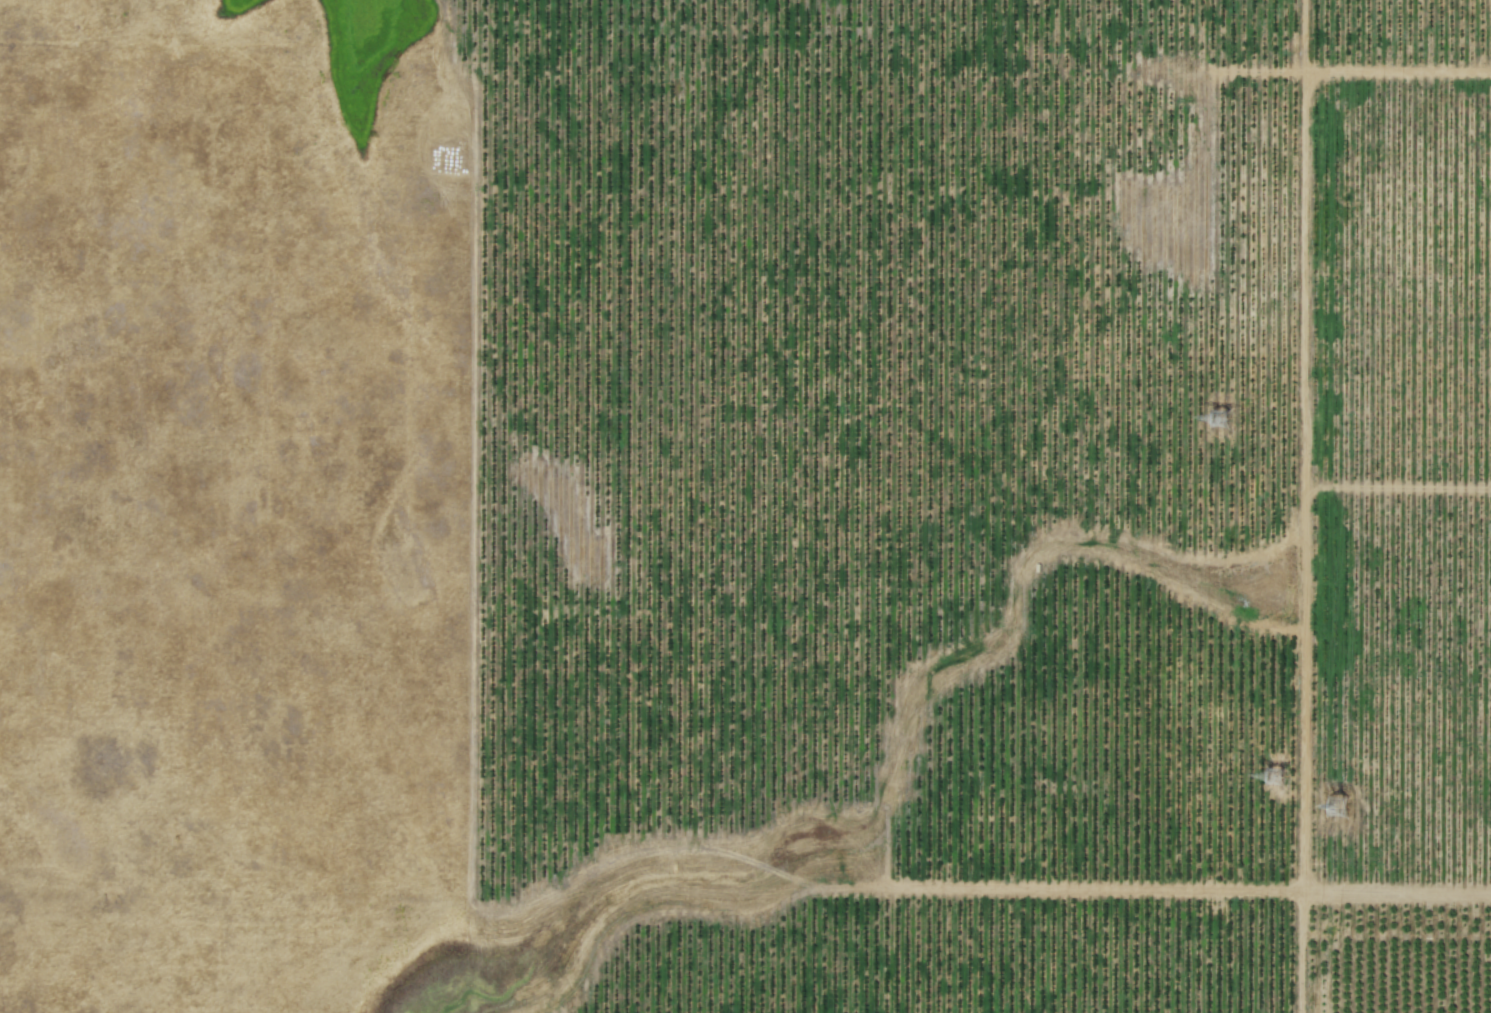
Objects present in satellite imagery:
power tower: (1224, 416)
power tower: (1266, 783)
power tower: (1342, 814)

